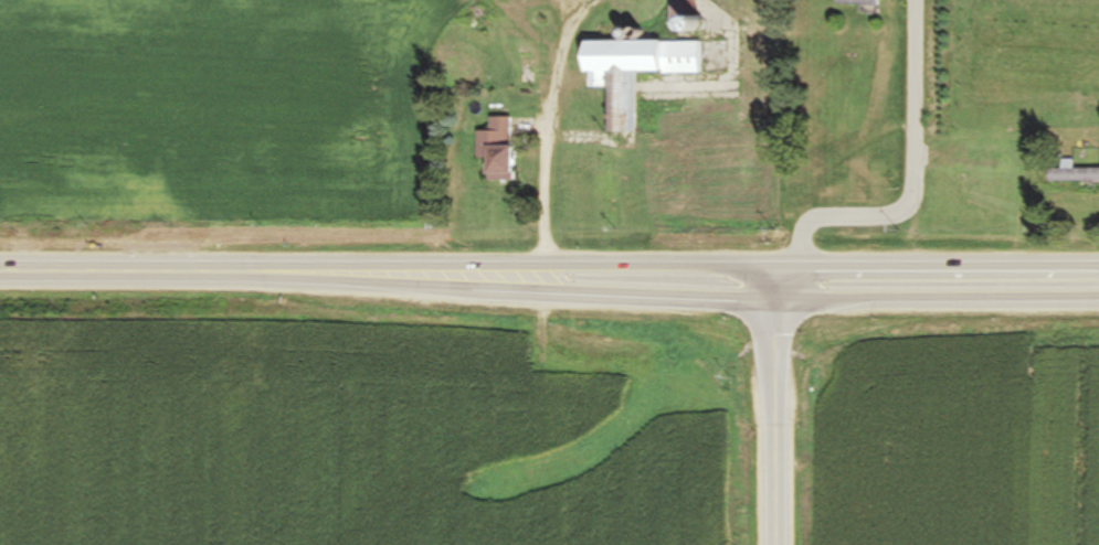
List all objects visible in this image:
building: (856, 2)
building: (683, 15)
road: (563, 36)
road: (530, 38)
building: (632, 72)
building: (497, 150)
road: (545, 169)
building: (1071, 174)
road: (913, 180)
road: (634, 267)
road: (85, 270)
road: (634, 292)
road: (779, 406)

